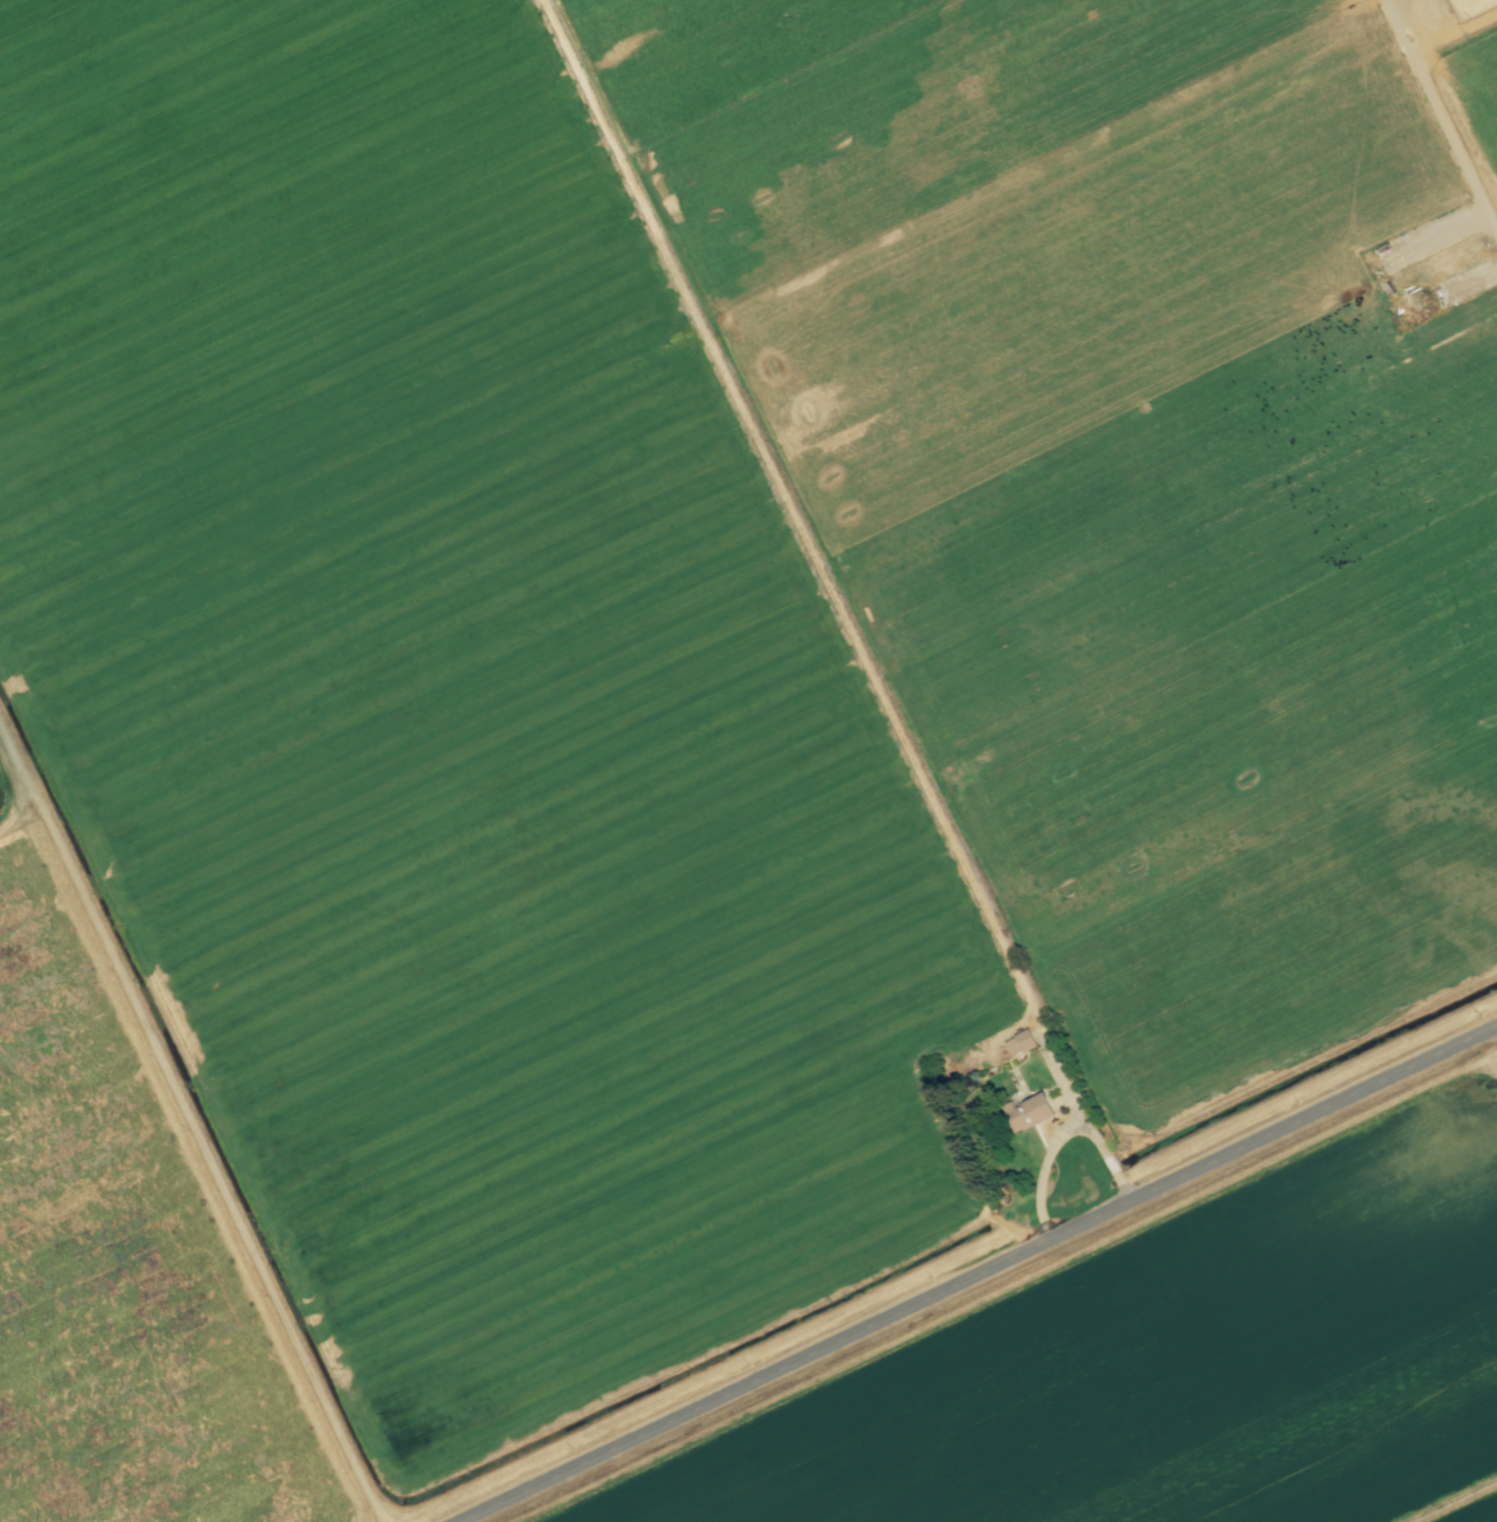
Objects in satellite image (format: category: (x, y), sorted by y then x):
road: (1441, 115)
building: (1019, 1044)
road: (1066, 1086)
building: (1028, 1113)
road: (1061, 1136)
road: (980, 1275)

